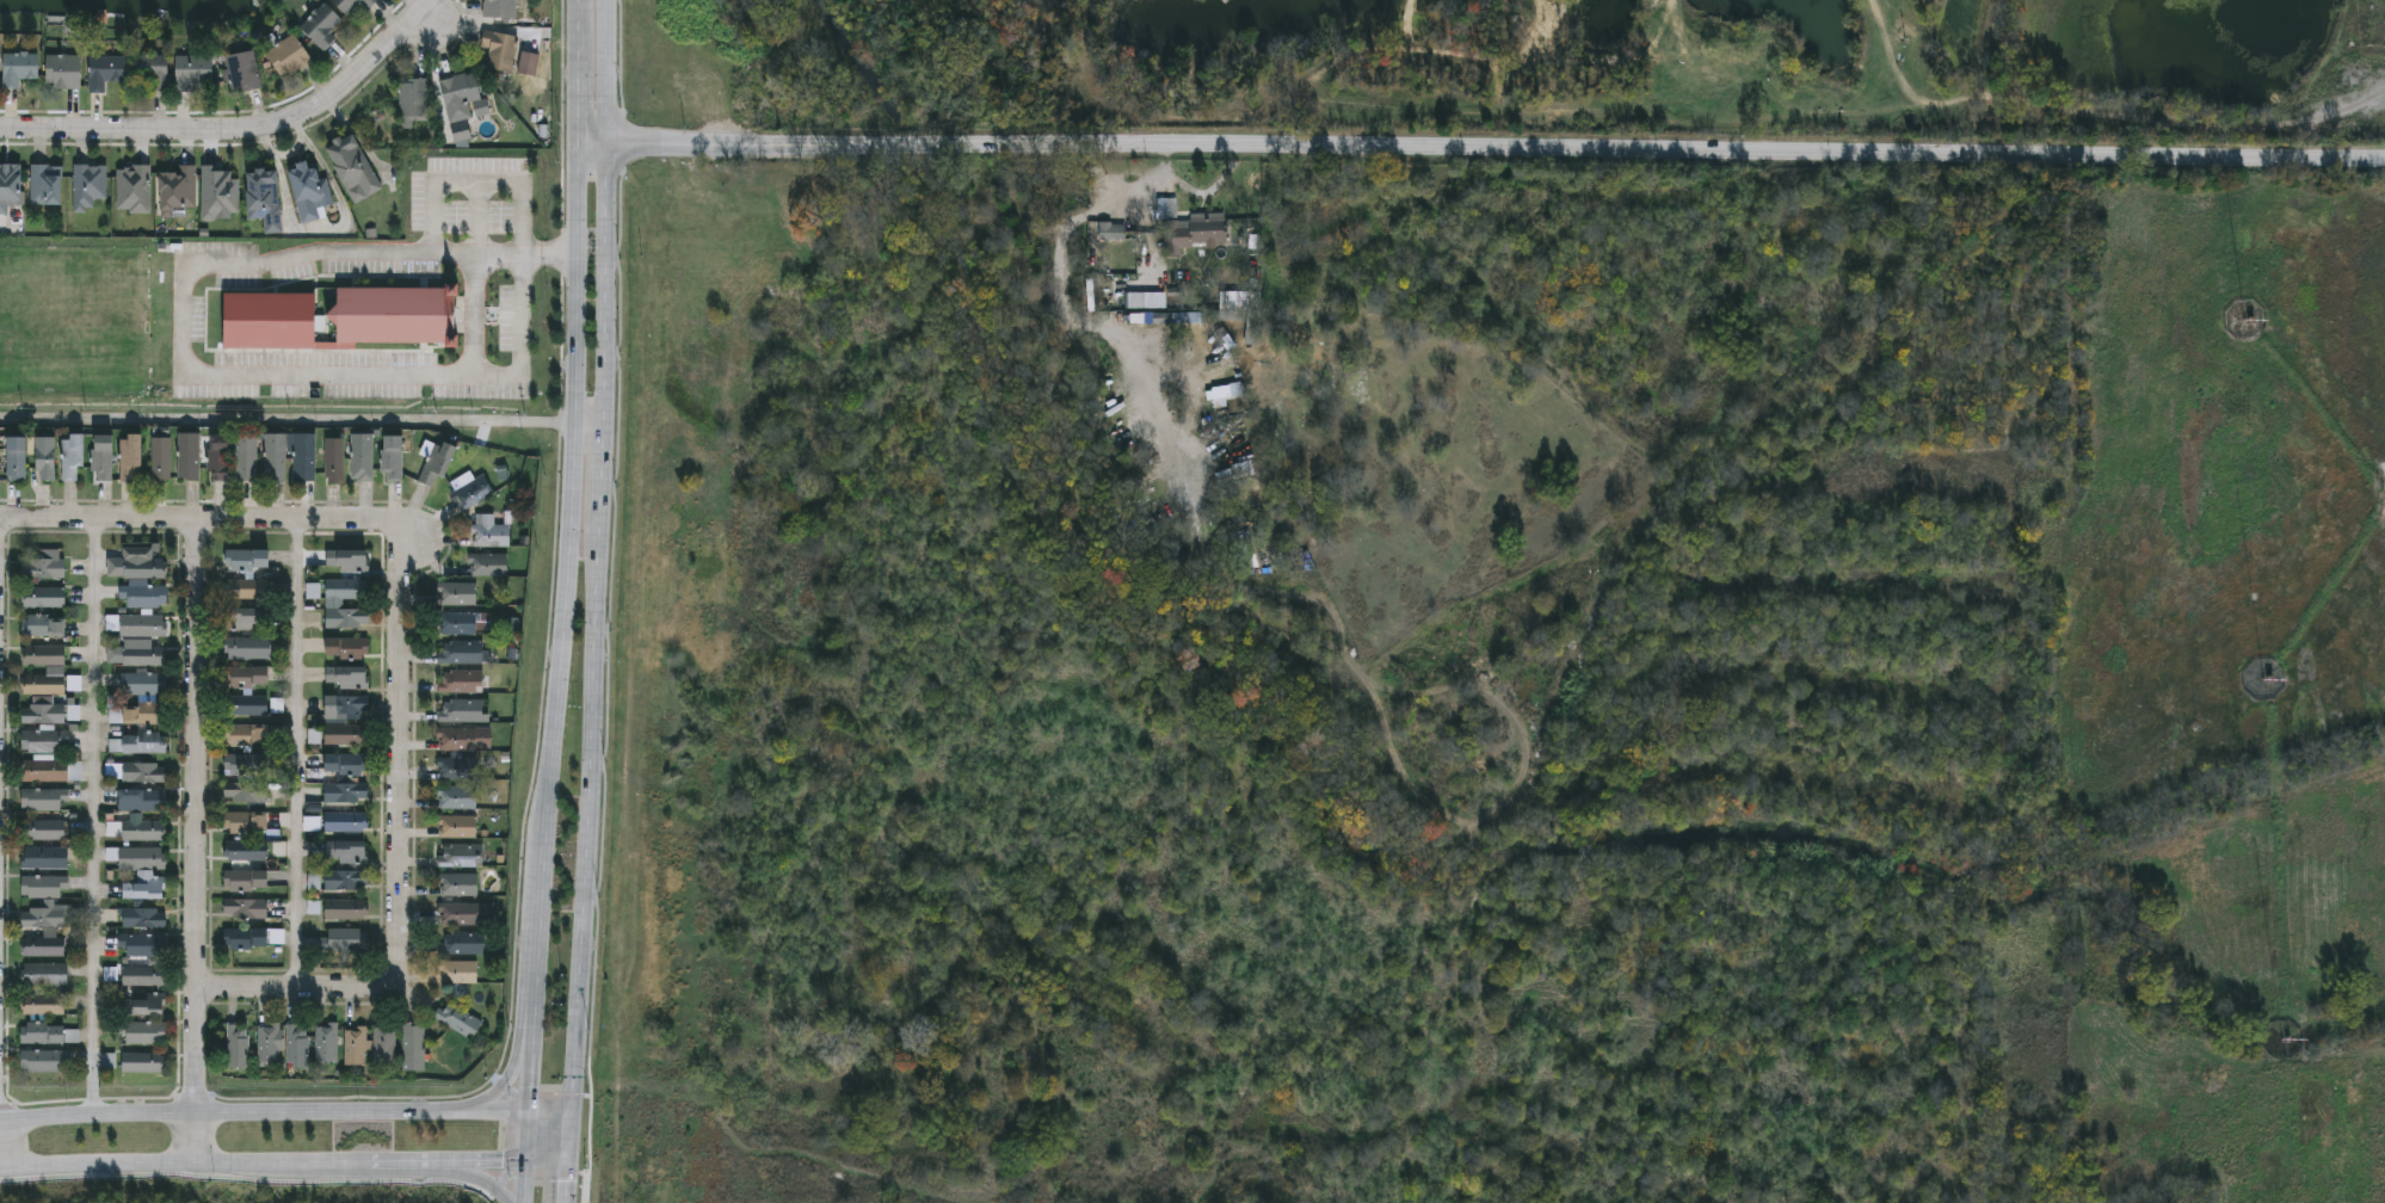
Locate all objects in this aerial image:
building: (500, 7)
road: (577, 14)
building: (321, 24)
building: (2372, 30)
building: (505, 50)
building: (288, 54)
building: (19, 66)
building: (152, 67)
building: (63, 69)
building: (105, 69)
building: (193, 70)
building: (244, 70)
road: (579, 90)
building: (461, 93)
building: (414, 101)
road: (239, 129)
road: (1483, 148)
building: (353, 167)
building: (47, 183)
building: (88, 184)
building: (10, 185)
building: (134, 186)
building: (178, 187)
building: (310, 189)
building: (264, 197)
building: (1114, 234)
building: (1197, 234)
building: (341, 317)
road: (183, 327)
road: (520, 347)
road: (303, 422)
building: (72, 456)
building: (130, 456)
building: (189, 456)
building: (17, 457)
building: (104, 457)
building: (220, 457)
building: (247, 457)
building: (290, 457)
building: (362, 457)
building: (45, 458)
building: (161, 458)
building: (393, 458)
building: (334, 461)
building: (437, 462)
building: (473, 493)
road: (207, 520)
road: (6, 526)
building: (489, 532)
building: (349, 560)
road: (571, 561)
building: (136, 563)
building: (488, 565)
building: (45, 568)
building: (247, 574)
building: (457, 593)
building: (143, 594)
building: (44, 598)
road: (600, 601)
building: (333, 604)
building: (244, 618)
building: (464, 623)
building: (44, 625)
building: (143, 625)
building: (248, 648)
building: (347, 648)
building: (463, 653)
building: (144, 655)
building: (249, 677)
building: (349, 677)
building: (462, 681)
building: (143, 683)
building: (44, 699)
building: (347, 705)
building: (252, 708)
building: (462, 711)
building: (144, 715)
building: (246, 735)
building: (464, 739)
building: (345, 740)
building: (143, 744)
road: (297, 754)
building: (246, 765)
building: (347, 765)
building: (457, 769)
building: (45, 772)
building: (143, 773)
building: (246, 792)
building: (346, 792)
building: (457, 797)
building: (44, 800)
building: (142, 801)
road: (94, 818)
building: (345, 822)
building: (248, 823)
building: (457, 826)
building: (44, 829)
building: (142, 832)
road: (197, 844)
building: (246, 851)
building: (347, 852)
road: (400, 855)
building: (461, 855)
building: (45, 858)
building: (141, 858)
building: (246, 880)
building: (344, 880)
building: (458, 884)
building: (143, 889)
building: (47, 902)
building: (246, 908)
building: (346, 908)
building: (460, 913)
building: (144, 919)
building: (254, 937)
building: (344, 939)
building: (463, 943)
building: (43, 944)
building: (155, 961)
building: (460, 971)
building: (45, 974)
road: (534, 989)
building: (143, 1005)
building: (45, 1006)
building: (458, 1019)
building: (146, 1032)
building: (49, 1034)
building: (269, 1042)
building: (327, 1042)
building: (238, 1045)
building: (298, 1045)
building: (357, 1045)
building: (384, 1045)
building: (413, 1047)
road: (530, 1057)
building: (44, 1061)
building: (143, 1062)
road: (512, 1066)
road: (288, 1108)
traffic signals: (529, 1108)
traffic signals: (578, 1108)
road: (525, 1154)
road: (472, 1164)
traffic signals: (525, 1164)
road: (549, 1164)
traffic signals: (573, 1164)
road: (392, 1166)
road: (181, 1168)
road: (468, 1174)
road: (524, 1174)
road: (246, 1179)
road: (587, 1180)

